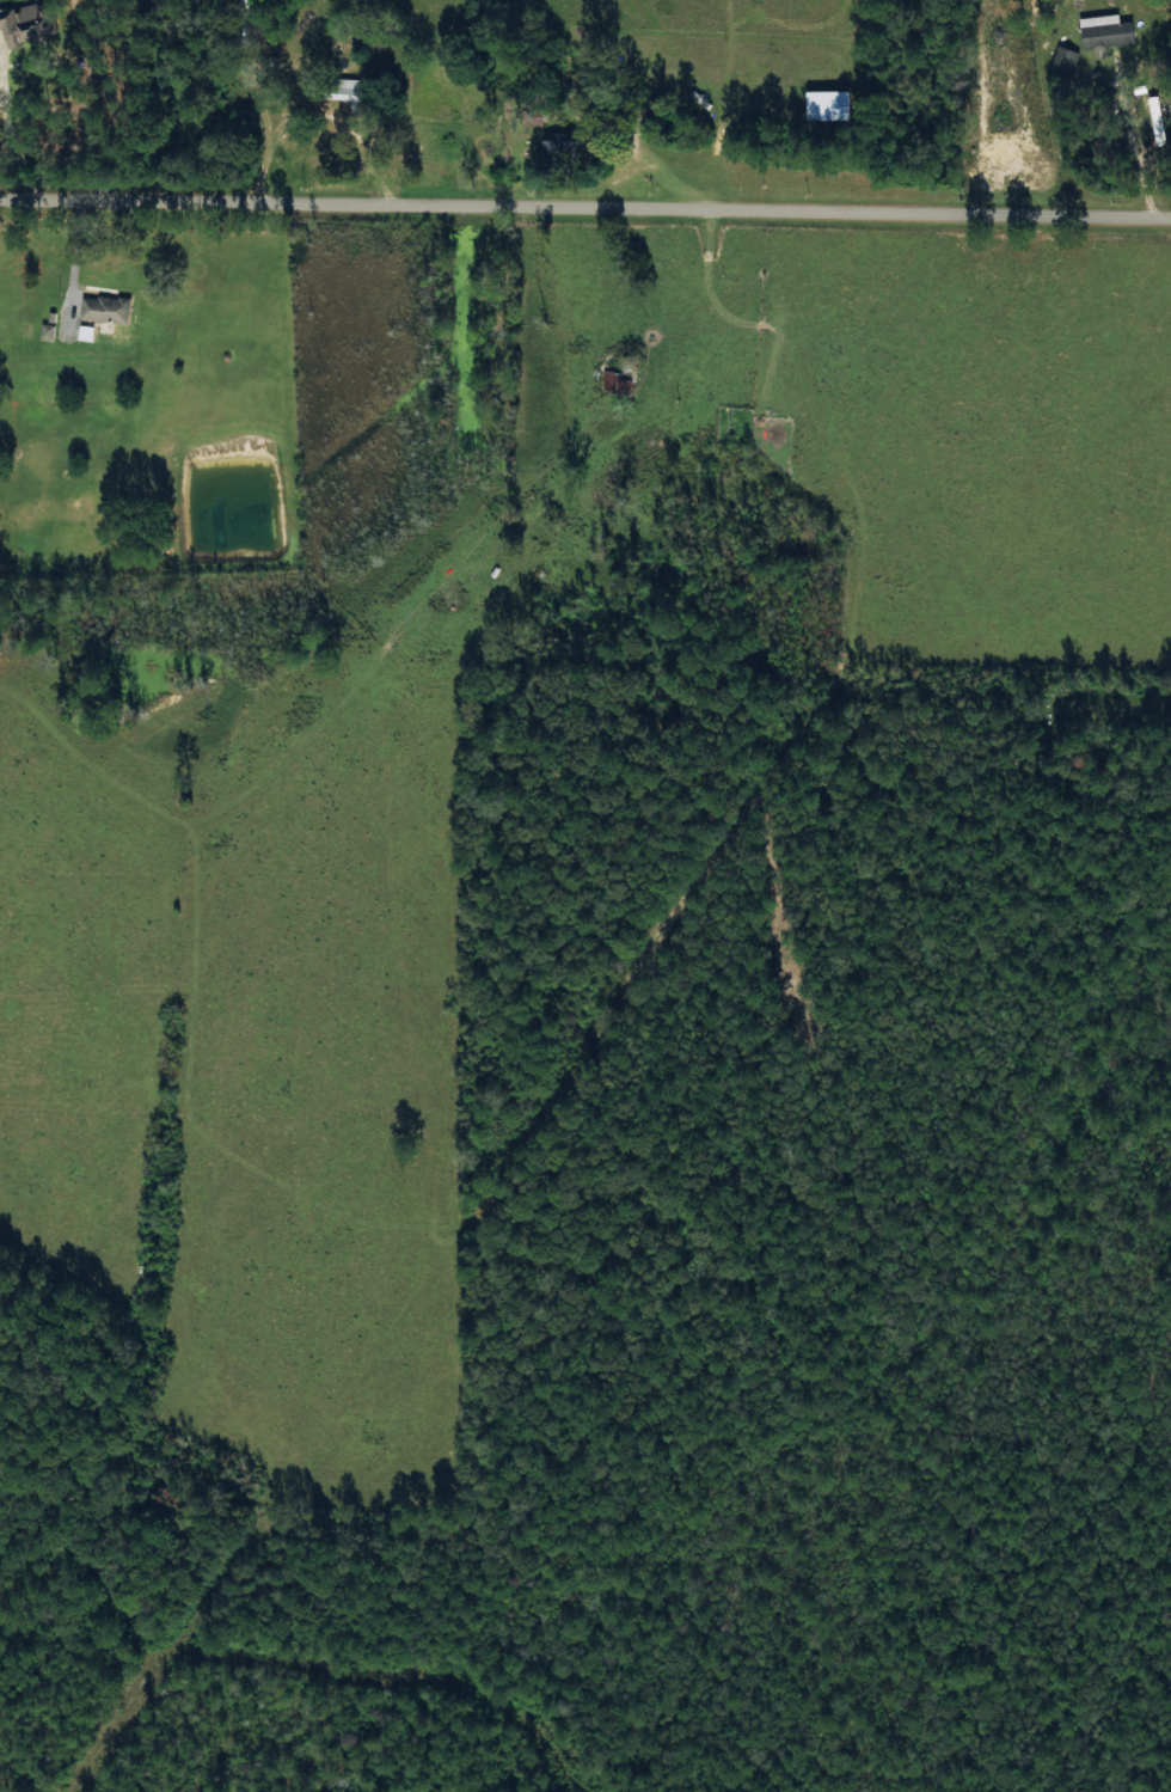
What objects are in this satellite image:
building: (22, 24)
building: (1103, 32)
building: (1062, 62)
building: (347, 90)
building: (826, 104)
building: (558, 146)
road: (584, 213)
building: (104, 308)
building: (47, 331)
building: (617, 380)
road: (587, 493)

